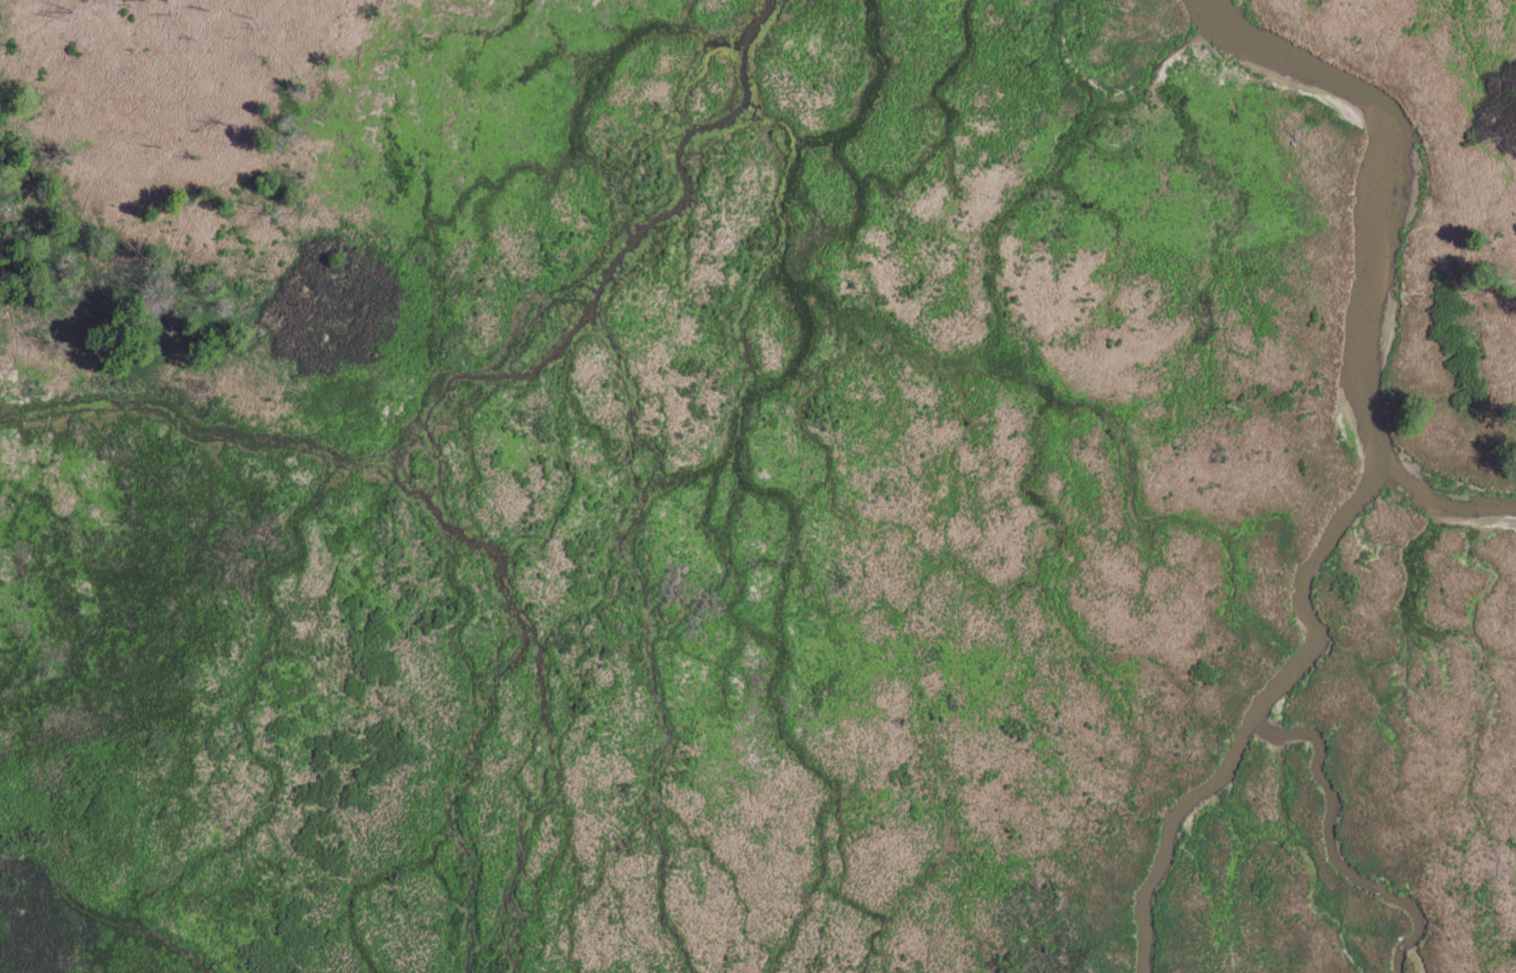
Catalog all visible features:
river: (1381, 257)

